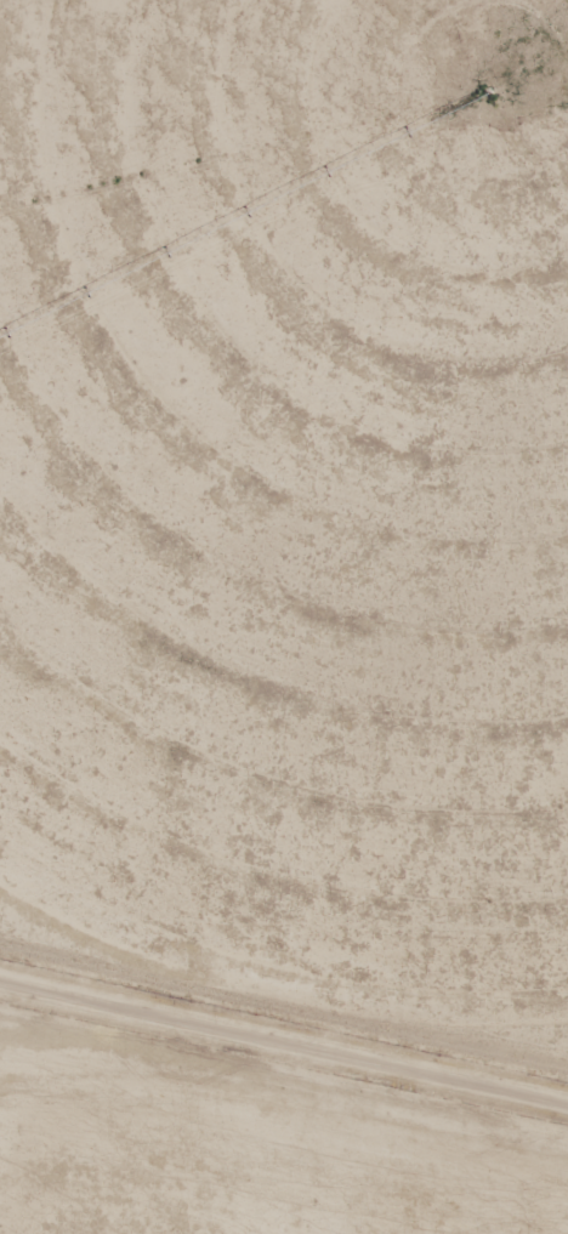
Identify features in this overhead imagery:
road: (284, 1002)

